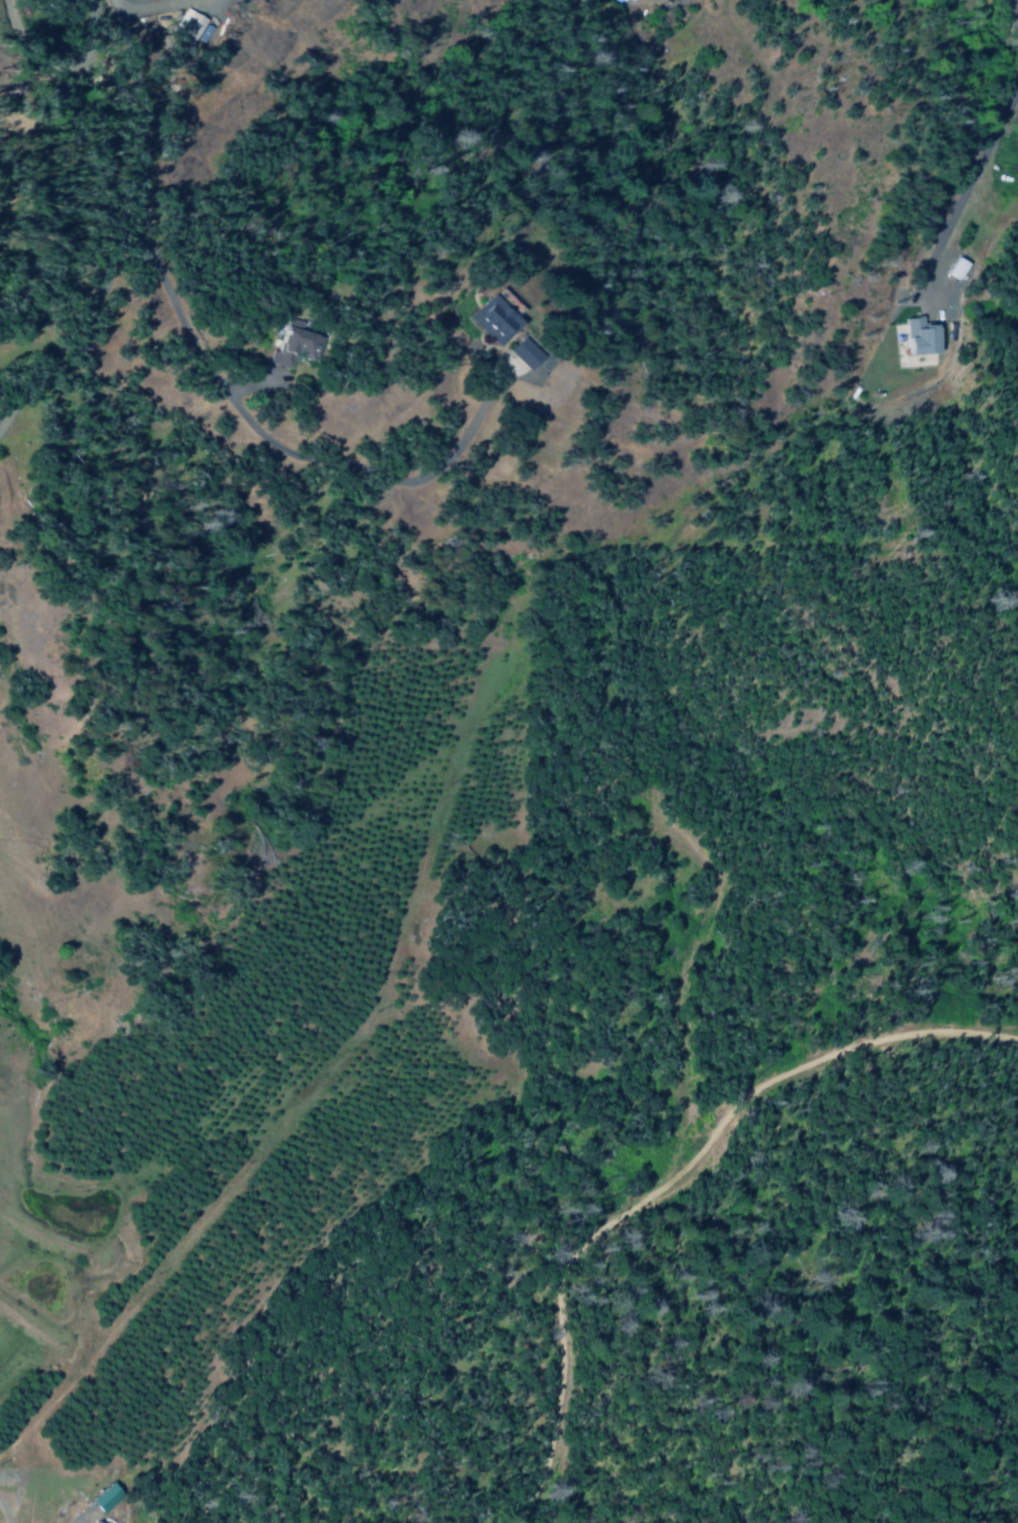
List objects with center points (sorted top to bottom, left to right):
building: (186, 26)
road: (986, 153)
road: (140, 181)
building: (955, 267)
building: (493, 319)
building: (923, 336)
building: (293, 346)
building: (523, 352)
road: (348, 474)
road: (675, 983)
road: (675, 1175)
building: (103, 1497)
building: (95, 1521)

